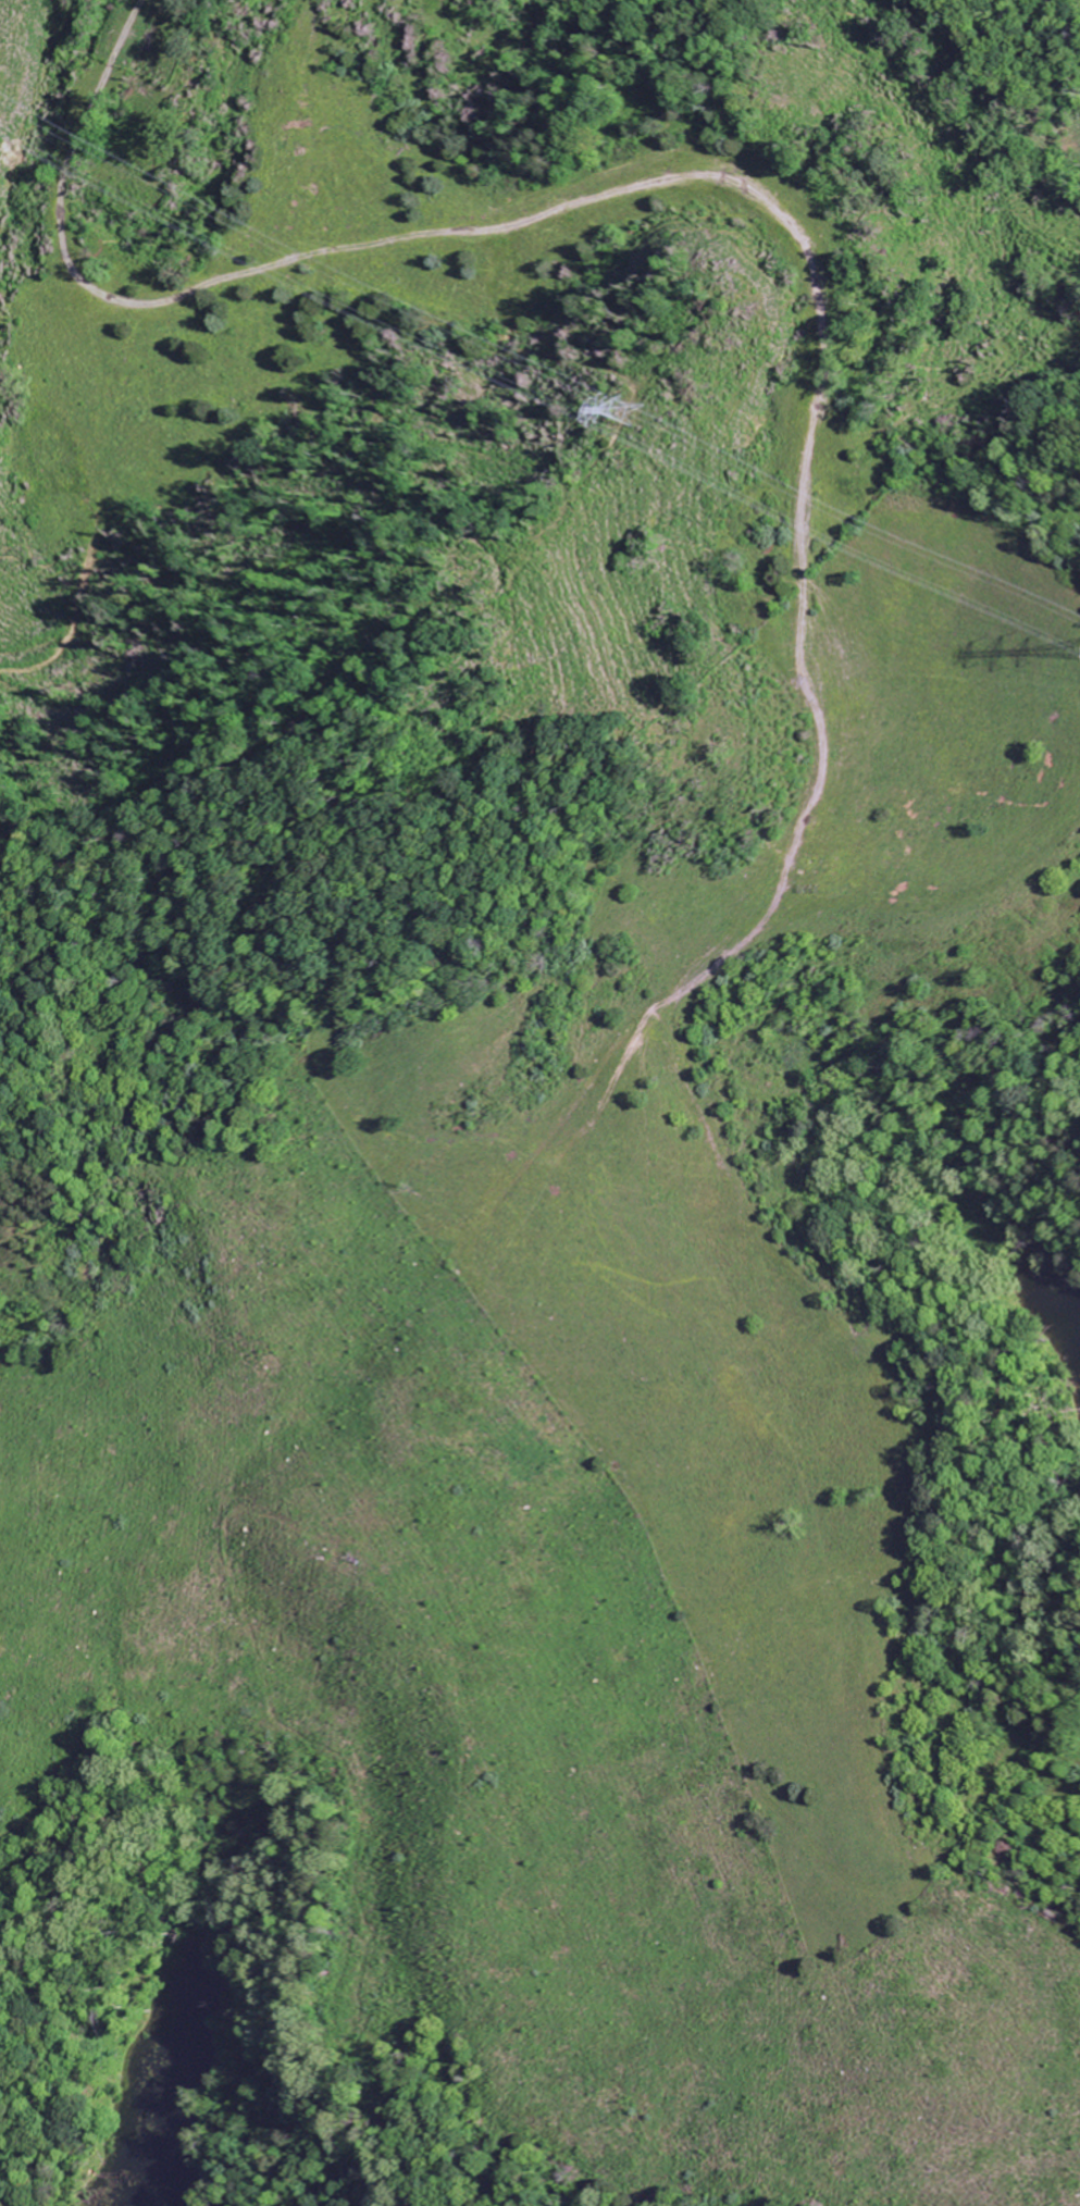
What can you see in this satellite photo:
power tower: (635, 417)

